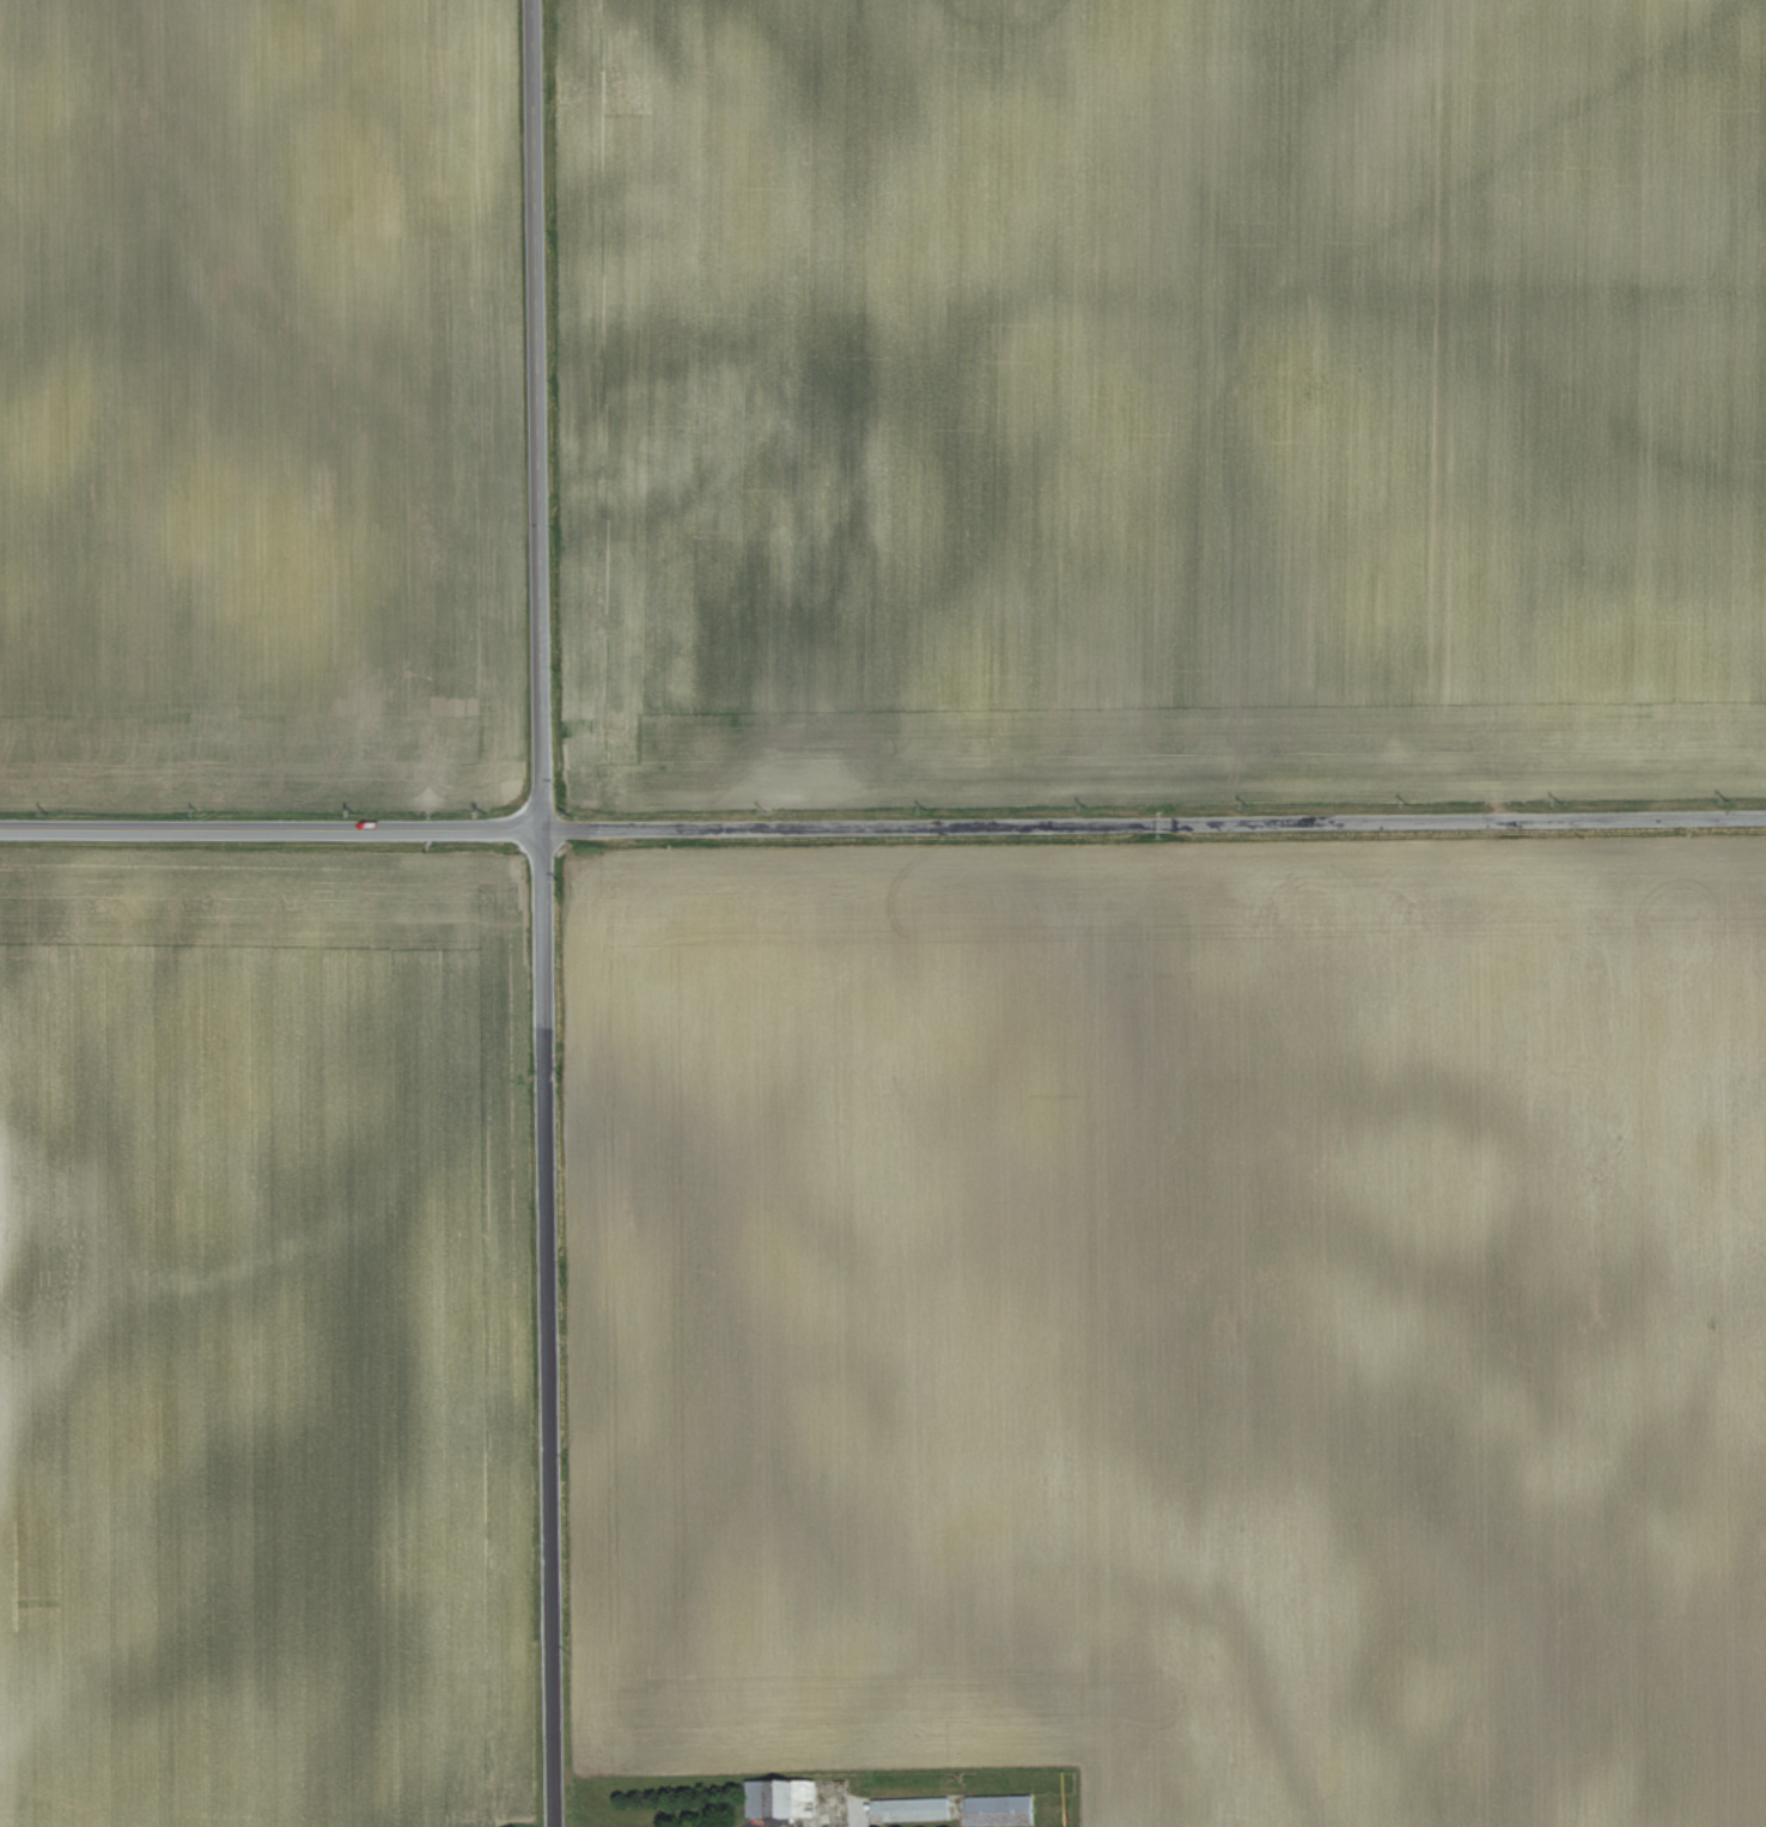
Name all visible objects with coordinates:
road: (883, 824)
road: (543, 913)
building: (780, 1798)
building: (909, 1809)
building: (998, 1810)
road: (768, 1826)

